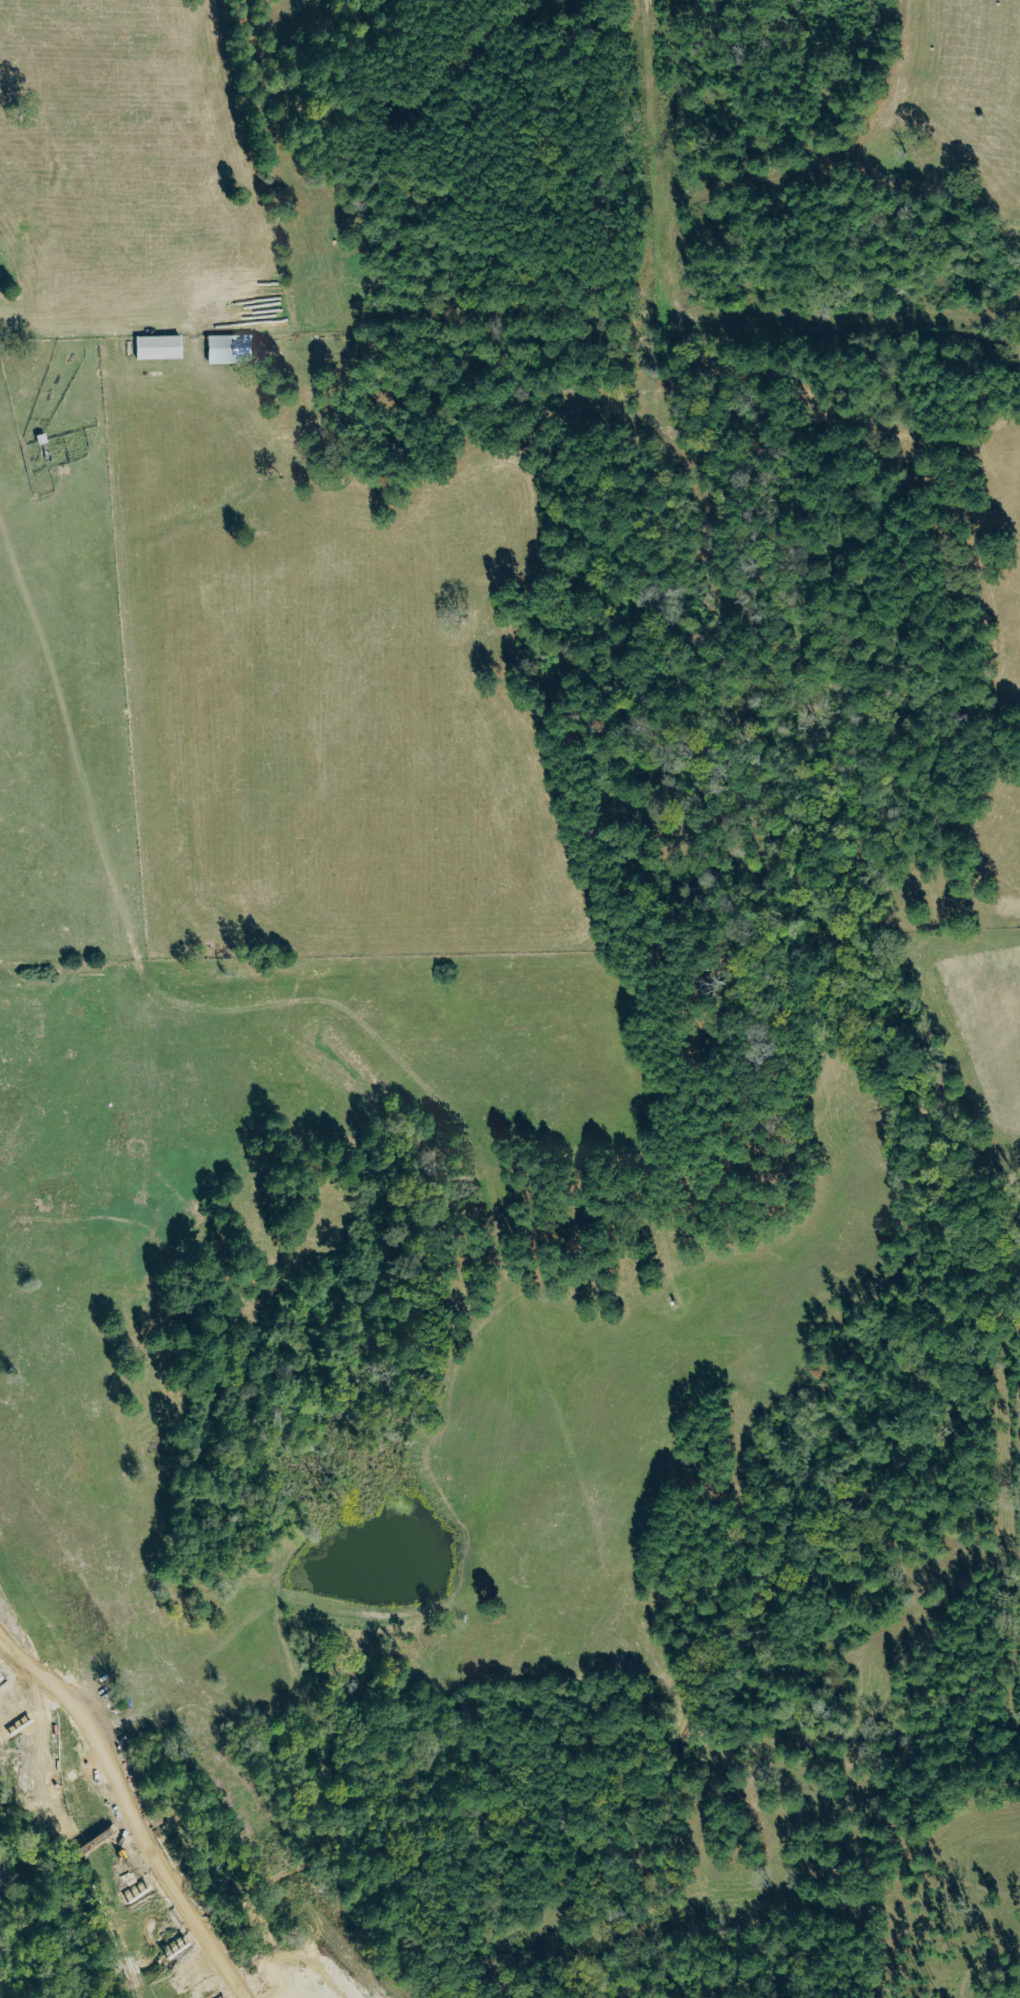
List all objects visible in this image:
building: (159, 347)
building: (231, 348)

